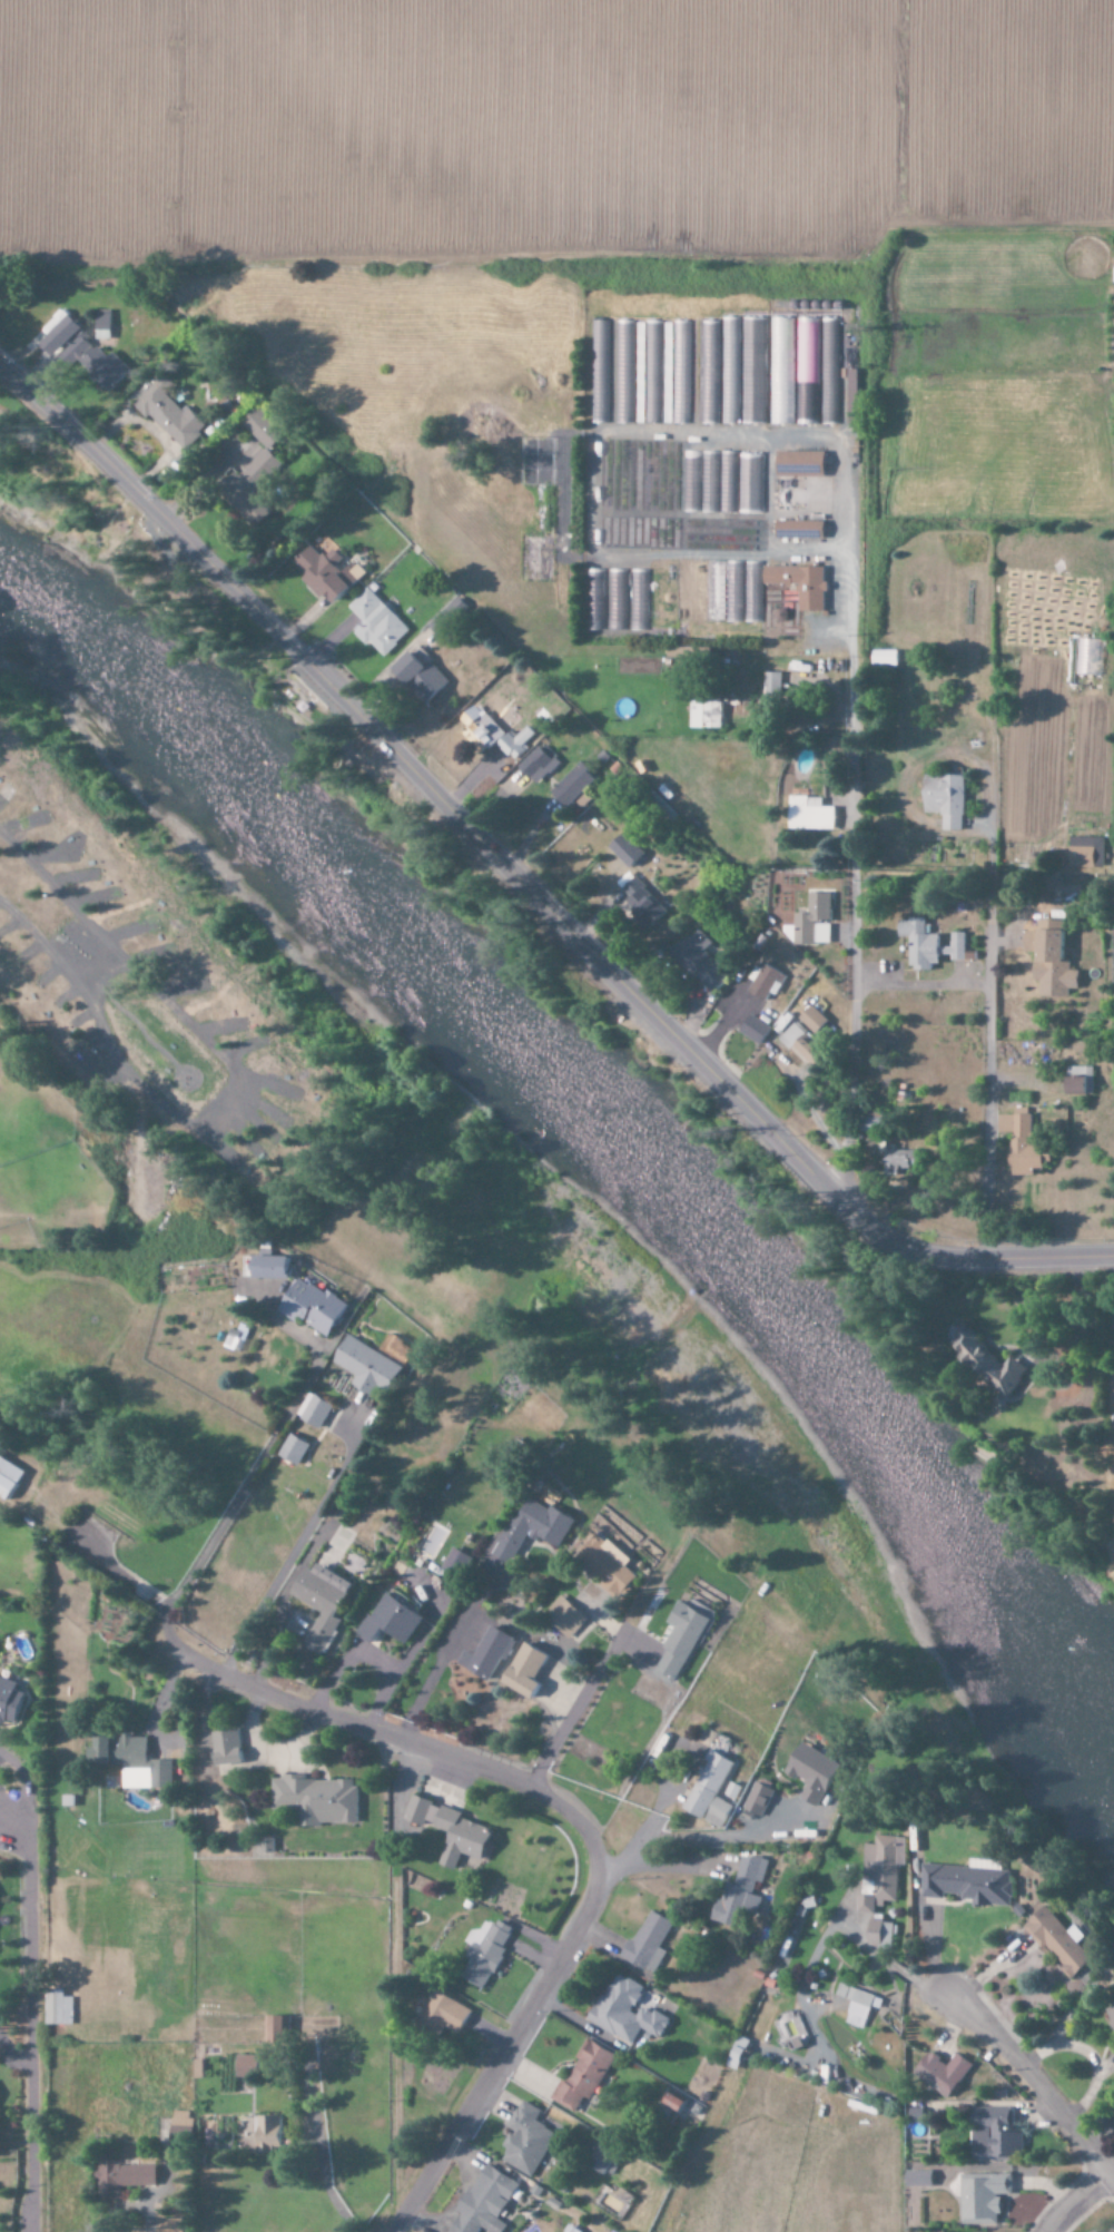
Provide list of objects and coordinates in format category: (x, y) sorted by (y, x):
crop: (543, 125)
building: (105, 324)
building: (86, 354)
building: (728, 371)
building: (752, 371)
building: (599, 372)
building: (623, 372)
building: (648, 372)
building: (779, 372)
building: (806, 372)
building: (828, 372)
building: (708, 373)
building: (676, 374)
building: (855, 397)
building: (170, 415)
building: (802, 464)
building: (257, 470)
building: (699, 482)
building: (726, 482)
building: (749, 484)
building: (801, 531)
building: (332, 574)
building: (801, 584)
building: (727, 589)
building: (615, 596)
building: (638, 600)
building: (378, 623)
building: (881, 658)
building: (423, 676)
building: (771, 682)
building: (717, 712)
building: (496, 736)
building: (540, 765)
building: (575, 785)
building: (942, 799)
building: (807, 814)
building: (629, 850)
building: (1084, 853)
road: (520, 886)
building: (640, 904)
building: (811, 921)
road: (849, 932)
building: (926, 945)
building: (697, 960)
building: (1047, 960)
road: (98, 971)
building: (763, 982)
road: (918, 985)
building: (811, 1019)
road: (986, 1020)
road: (134, 1021)
building: (751, 1029)
building: (799, 1045)
building: (1077, 1082)
road: (233, 1092)
river: (600, 1123)
building: (1023, 1143)
park: (355, 1172)
building: (270, 1267)
building: (316, 1307)
building: (236, 1338)
building: (992, 1363)
building: (377, 1364)
building: (317, 1409)
building: (296, 1449)
building: (10, 1477)
road: (229, 1507)
road: (323, 1511)
building: (536, 1530)
building: (611, 1563)
road: (115, 1572)
building: (324, 1603)
building: (568, 1616)
building: (393, 1621)
building: (683, 1640)
building: (489, 1653)
building: (529, 1670)
building: (10, 1701)
building: (230, 1750)
building: (136, 1762)
building: (817, 1773)
building: (713, 1786)
building: (318, 1800)
building: (758, 1800)
building: (454, 1831)
road: (589, 1837)
building: (881, 1871)
building: (974, 1885)
building: (742, 1892)
building: (881, 1935)
building: (651, 1941)
building: (486, 1954)
building: (858, 2005)
building: (59, 2008)
building: (629, 2012)
building: (448, 2014)
building: (1112, 2015)
road: (29, 2017)
building: (279, 2031)
building: (789, 2031)
building: (248, 2066)
building: (944, 2073)
building: (588, 2075)
road: (1034, 2090)
building: (679, 2104)
building: (272, 2134)
building: (992, 2134)
building: (529, 2141)
building: (605, 2159)
building: (127, 2179)
building: (915, 2179)
building: (980, 2197)
road: (1074, 2202)
building: (487, 2203)

